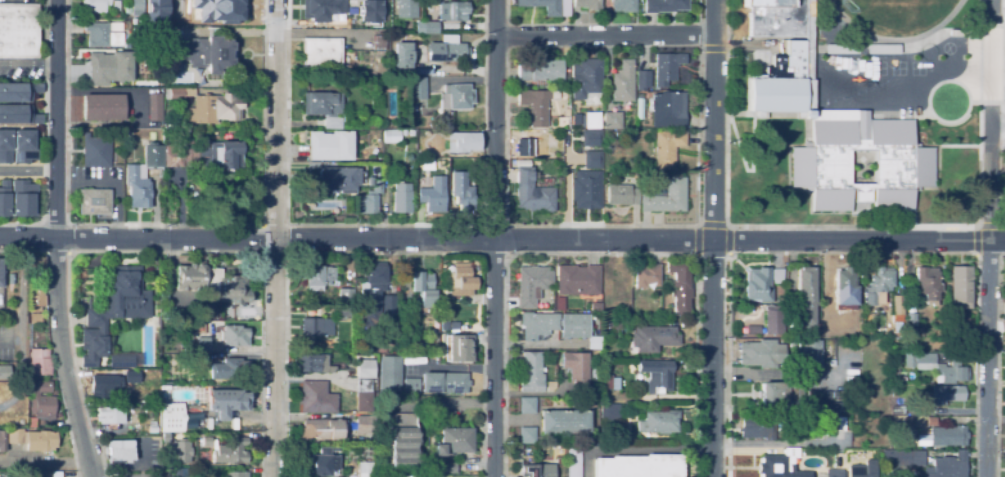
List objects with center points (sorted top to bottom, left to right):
building: (434, 0)
building: (590, 5)
building: (623, 5)
building: (665, 5)
building: (95, 6)
building: (115, 6)
building: (545, 6)
building: (207, 7)
building: (137, 8)
road: (993, 8)
building: (323, 9)
building: (406, 9)
building: (453, 10)
building: (370, 11)
building: (150, 12)
building: (133, 21)
road: (603, 23)
building: (125, 25)
building: (426, 27)
building: (969, 29)
building: (18, 31)
building: (139, 35)
road: (604, 35)
building: (104, 36)
building: (778, 36)
building: (377, 43)
building: (837, 47)
building: (879, 47)
road: (713, 48)
building: (446, 51)
building: (321, 53)
building: (207, 54)
building: (168, 56)
building: (401, 57)
road: (28, 64)
building: (110, 67)
building: (667, 67)
building: (541, 72)
building: (586, 77)
building: (643, 80)
building: (623, 82)
building: (516, 85)
building: (416, 88)
building: (17, 93)
building: (455, 97)
building: (776, 97)
building: (321, 104)
building: (537, 105)
building: (639, 105)
building: (207, 106)
building: (102, 107)
building: (154, 107)
building: (667, 110)
building: (566, 112)
building: (18, 116)
building: (590, 120)
building: (612, 120)
building: (330, 122)
building: (369, 123)
parking lot: (1003, 123)
road: (997, 124)
building: (168, 127)
building: (427, 132)
building: (135, 133)
building: (402, 133)
building: (410, 133)
building: (617, 135)
building: (389, 136)
building: (589, 137)
building: (465, 142)
building: (329, 145)
building: (527, 145)
building: (551, 145)
building: (4, 147)
building: (23, 147)
building: (667, 148)
building: (96, 151)
building: (373, 151)
building: (419, 152)
building: (568, 153)
building: (180, 155)
building: (220, 156)
building: (590, 159)
building: (856, 162)
building: (425, 164)
building: (142, 177)
building: (337, 180)
building: (589, 184)
building: (641, 187)
building: (460, 193)
building: (533, 193)
building: (621, 195)
building: (432, 196)
building: (666, 197)
building: (3, 198)
building: (401, 198)
building: (22, 199)
building: (368, 199)
building: (94, 202)
road: (507, 222)
road: (709, 224)
road: (738, 226)
road: (975, 227)
road: (274, 238)
road: (493, 238)
road: (712, 238)
road: (502, 239)
road: (55, 240)
road: (852, 252)
road: (601, 253)
building: (35, 262)
building: (1, 273)
building: (647, 275)
building: (318, 277)
building: (461, 280)
building: (577, 280)
building: (212, 283)
building: (761, 283)
building: (846, 283)
building: (927, 284)
building: (532, 285)
building: (680, 285)
building: (878, 285)
building: (960, 286)
building: (424, 289)
road: (987, 294)
building: (807, 295)
building: (346, 297)
building: (35, 299)
building: (376, 300)
building: (559, 303)
building: (898, 305)
building: (596, 307)
building: (409, 309)
building: (1004, 309)
building: (113, 311)
building: (205, 311)
building: (345, 311)
building: (35, 318)
building: (911, 319)
building: (774, 320)
building: (444, 323)
building: (454, 323)
building: (538, 324)
building: (387, 325)
building: (317, 327)
building: (614, 327)
building: (200, 328)
building: (579, 329)
building: (753, 329)
building: (234, 336)
building: (653, 338)
building: (913, 339)
building: (203, 344)
building: (793, 344)
building: (461, 346)
building: (382, 351)
building: (811, 352)
building: (761, 354)
building: (120, 361)
building: (39, 362)
building: (313, 363)
building: (832, 363)
building: (793, 364)
building: (937, 367)
building: (3, 369)
building: (229, 369)
building: (366, 369)
building: (577, 371)
building: (391, 372)
building: (531, 373)
building: (659, 376)
building: (110, 381)
building: (445, 381)
building: (609, 383)
building: (412, 384)
building: (551, 385)
building: (165, 388)
building: (947, 394)
building: (781, 395)
building: (815, 395)
building: (822, 395)
building: (828, 395)
building: (835, 395)
building: (364, 396)
building: (316, 398)
building: (227, 401)
building: (40, 402)
building: (527, 405)
building: (635, 408)
building: (808, 410)
building: (898, 410)
building: (610, 412)
building: (110, 416)
building: (172, 417)
building: (831, 417)
building: (785, 418)
building: (565, 422)
building: (659, 422)
building: (918, 422)
building: (209, 424)
building: (234, 424)
building: (364, 425)
building: (795, 425)
building: (757, 428)
building: (153, 429)
building: (322, 430)
building: (527, 435)
building: (947, 436)
building: (32, 439)
building: (923, 439)
building: (402, 440)
building: (2, 441)
building: (207, 441)
building: (453, 442)
building: (180, 450)
building: (121, 451)
building: (232, 452)
building: (902, 458)
road: (140, 460)
building: (573, 460)
building: (864, 460)
building: (321, 462)
building: (779, 465)
building: (639, 466)
building: (947, 466)
building: (448, 467)
building: (365, 469)
building: (861, 469)
building: (534, 470)
building: (177, 472)
building: (37, 473)
building: (834, 473)
building: (237, 474)

